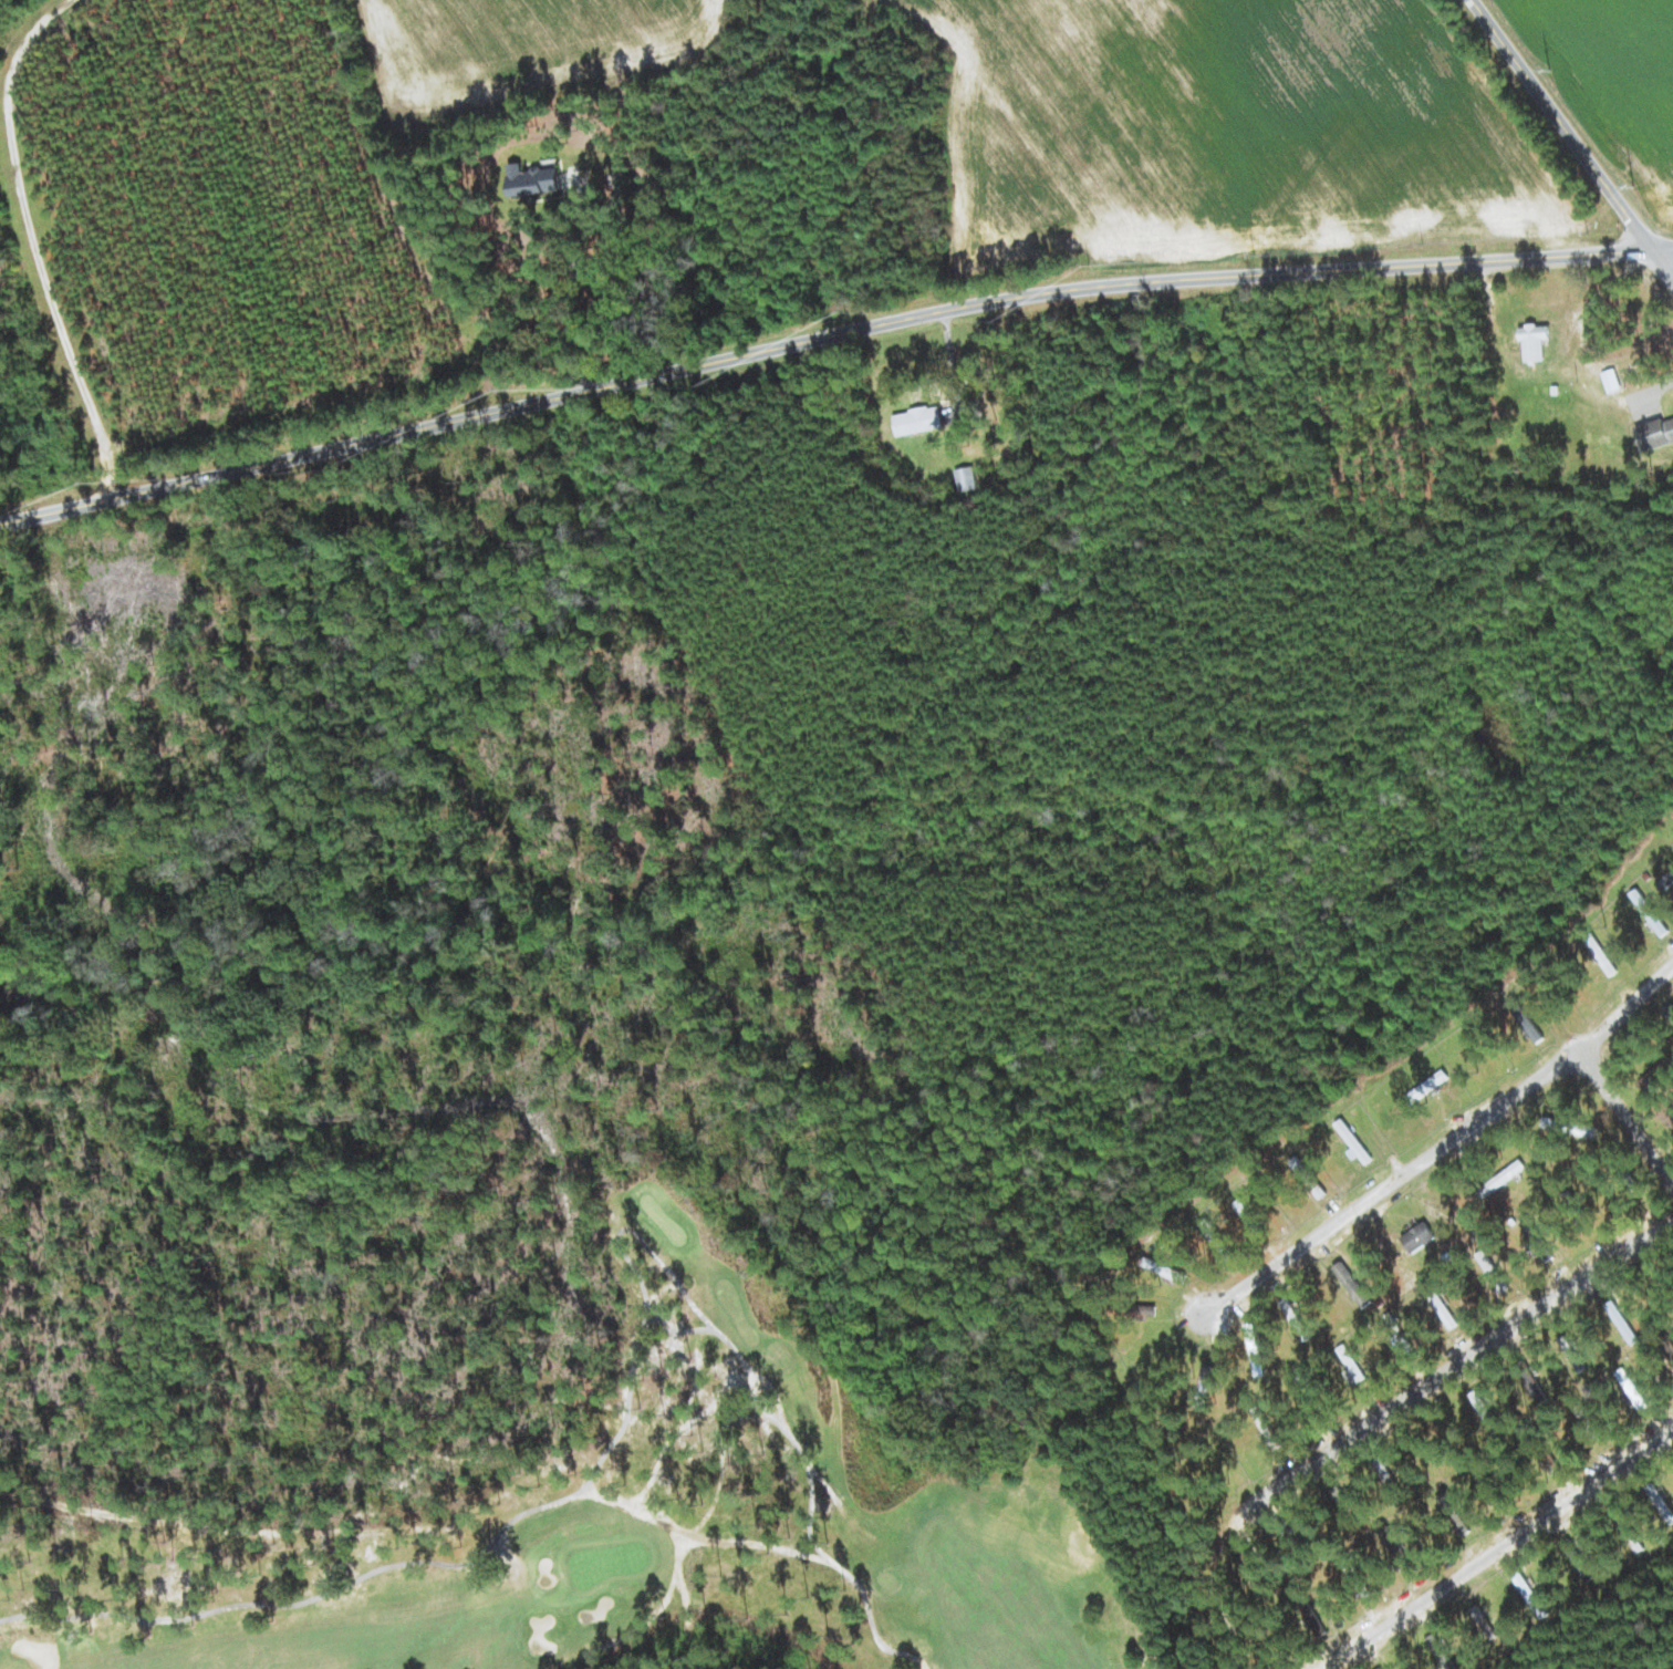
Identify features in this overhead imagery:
road: (1575, 136)
building: (531, 179)
road: (829, 326)
building: (1534, 341)
building: (1611, 380)
building: (918, 421)
building: (1654, 433)
building: (965, 478)
building: (1667, 880)
building: (1650, 912)
building: (1527, 1020)
building: (1656, 1076)
building: (1427, 1086)
road: (1625, 1115)
building: (1353, 1142)
road: (1446, 1144)
building: (1419, 1236)
building: (1536, 1238)
building: (1352, 1284)
building: (1295, 1318)
road: (1434, 1380)
building: (1531, 1382)
building: (1202, 1387)
building: (1457, 1516)
park: (684, 1520)
building: (1636, 1544)
road: (1495, 1549)
road: (1225, 1611)
building: (1313, 1621)

